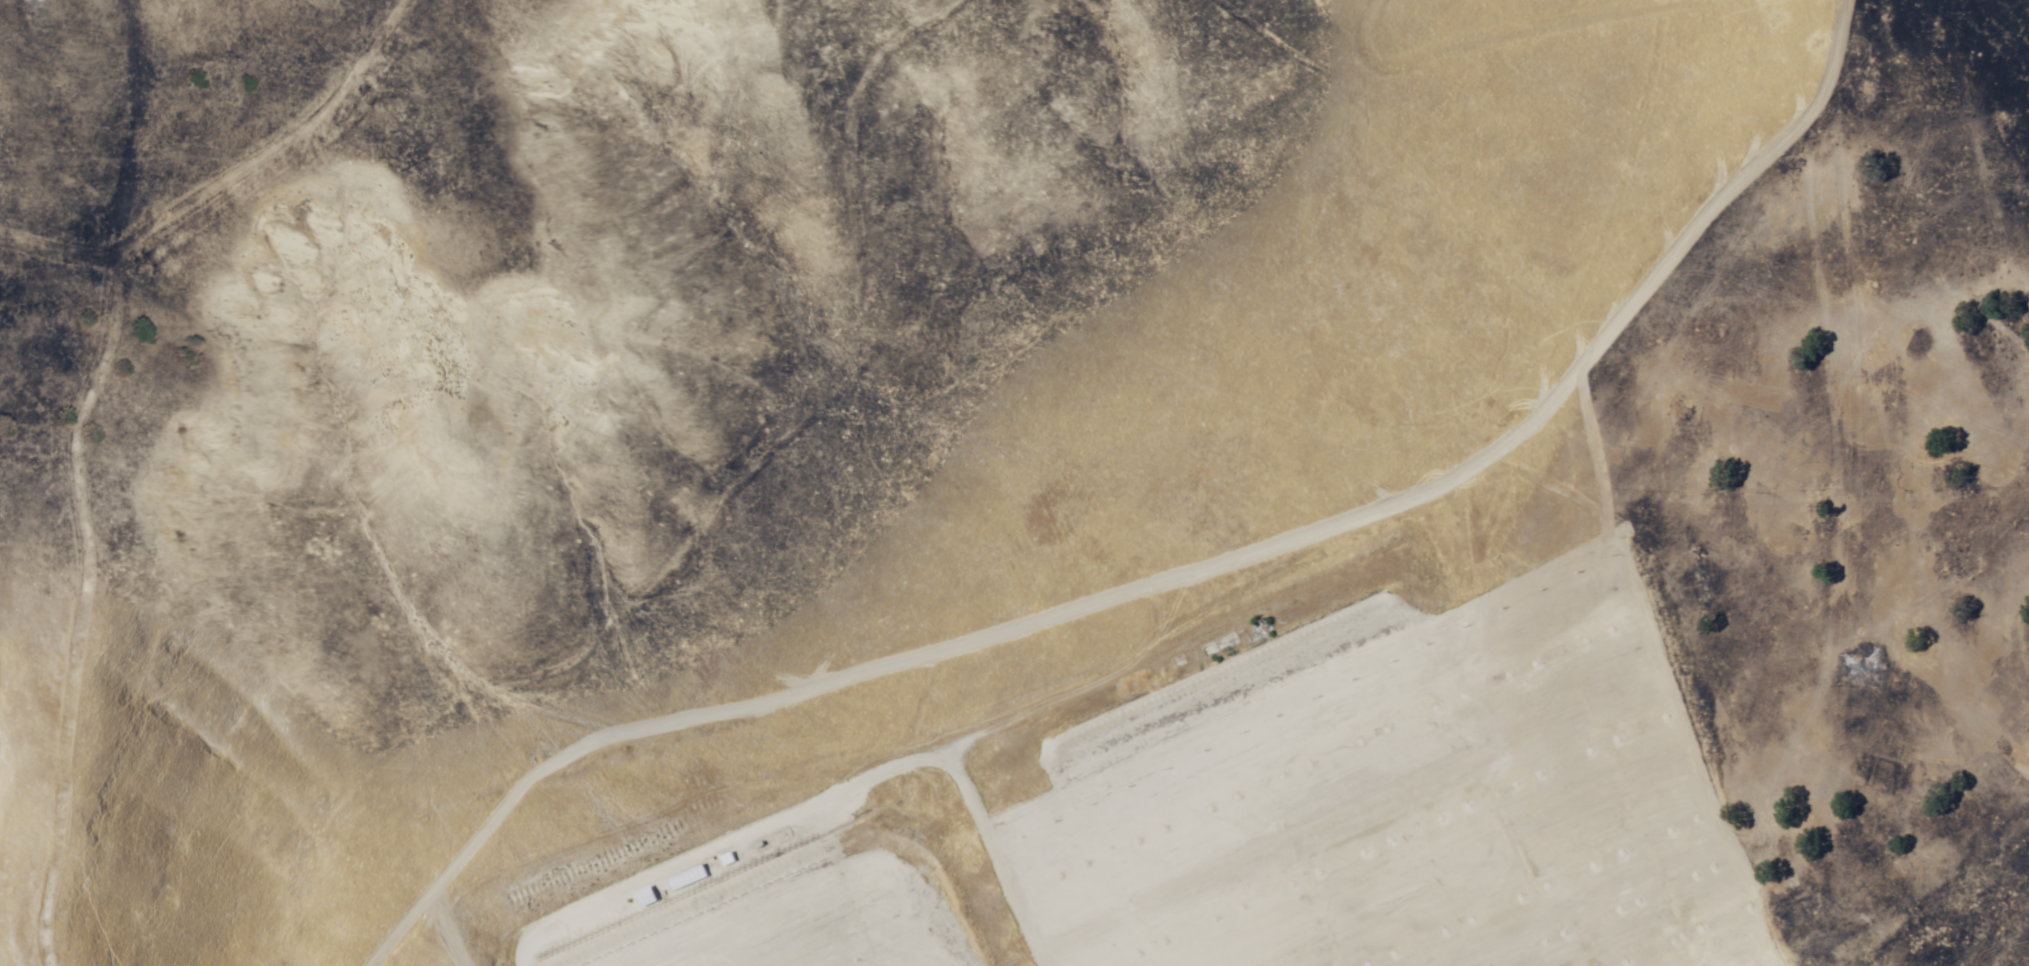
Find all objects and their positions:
road: (273, 105)
road: (90, 218)
road: (1639, 300)
road: (63, 576)
road: (1078, 594)
road: (949, 820)
building: (686, 879)
building: (644, 898)

